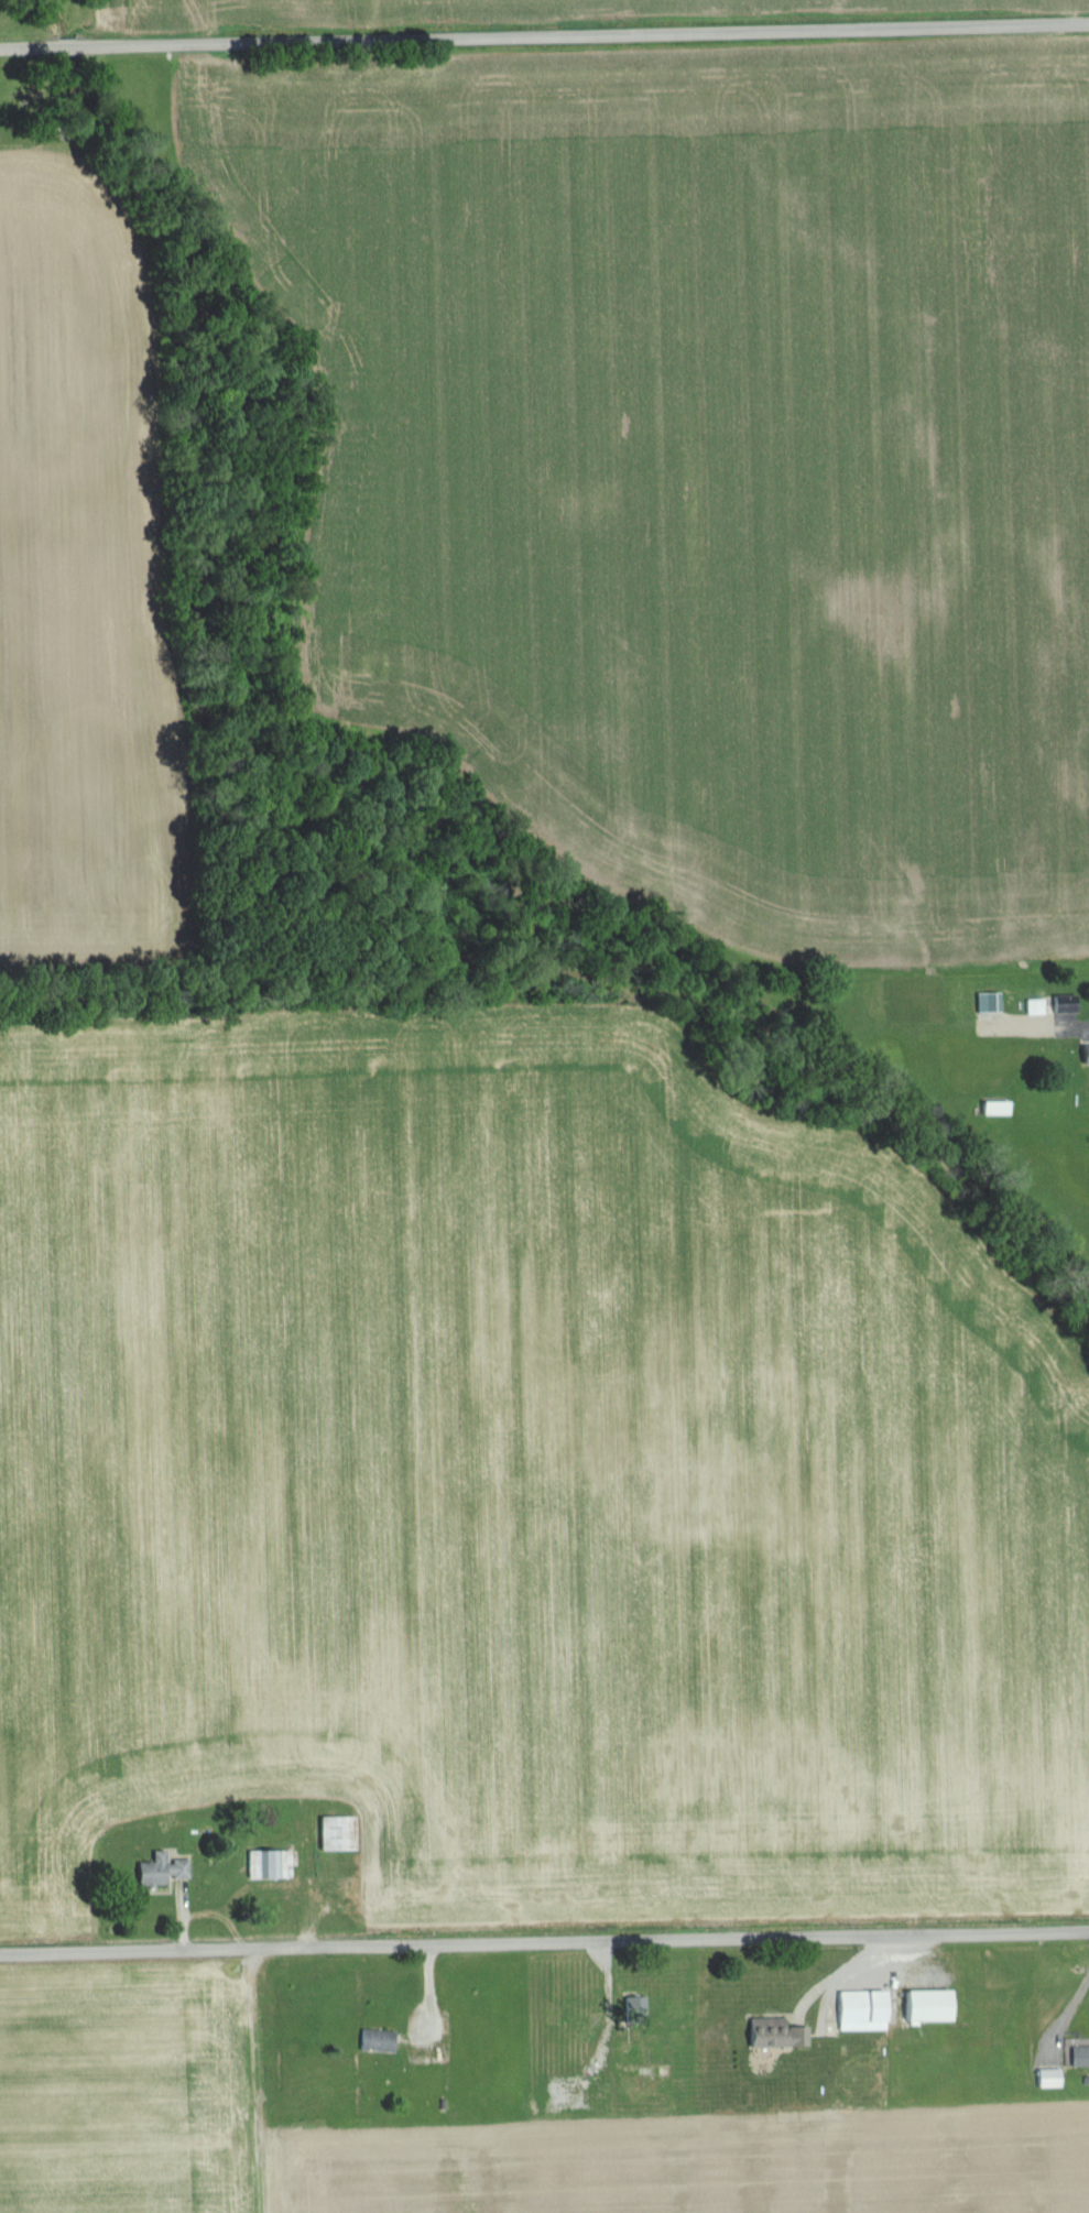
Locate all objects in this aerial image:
road: (544, 41)
building: (985, 1002)
building: (1064, 1004)
building: (1034, 1006)
building: (1085, 1055)
building: (1042, 1108)
building: (994, 1109)
building: (336, 1833)
building: (268, 1864)
building: (160, 1869)
road: (544, 1949)
building: (927, 2005)
building: (634, 2009)
building: (861, 2009)
road: (1064, 2018)
building: (775, 2032)
building: (375, 2040)
building: (1079, 2054)
building: (1047, 2078)
building: (570, 2092)

